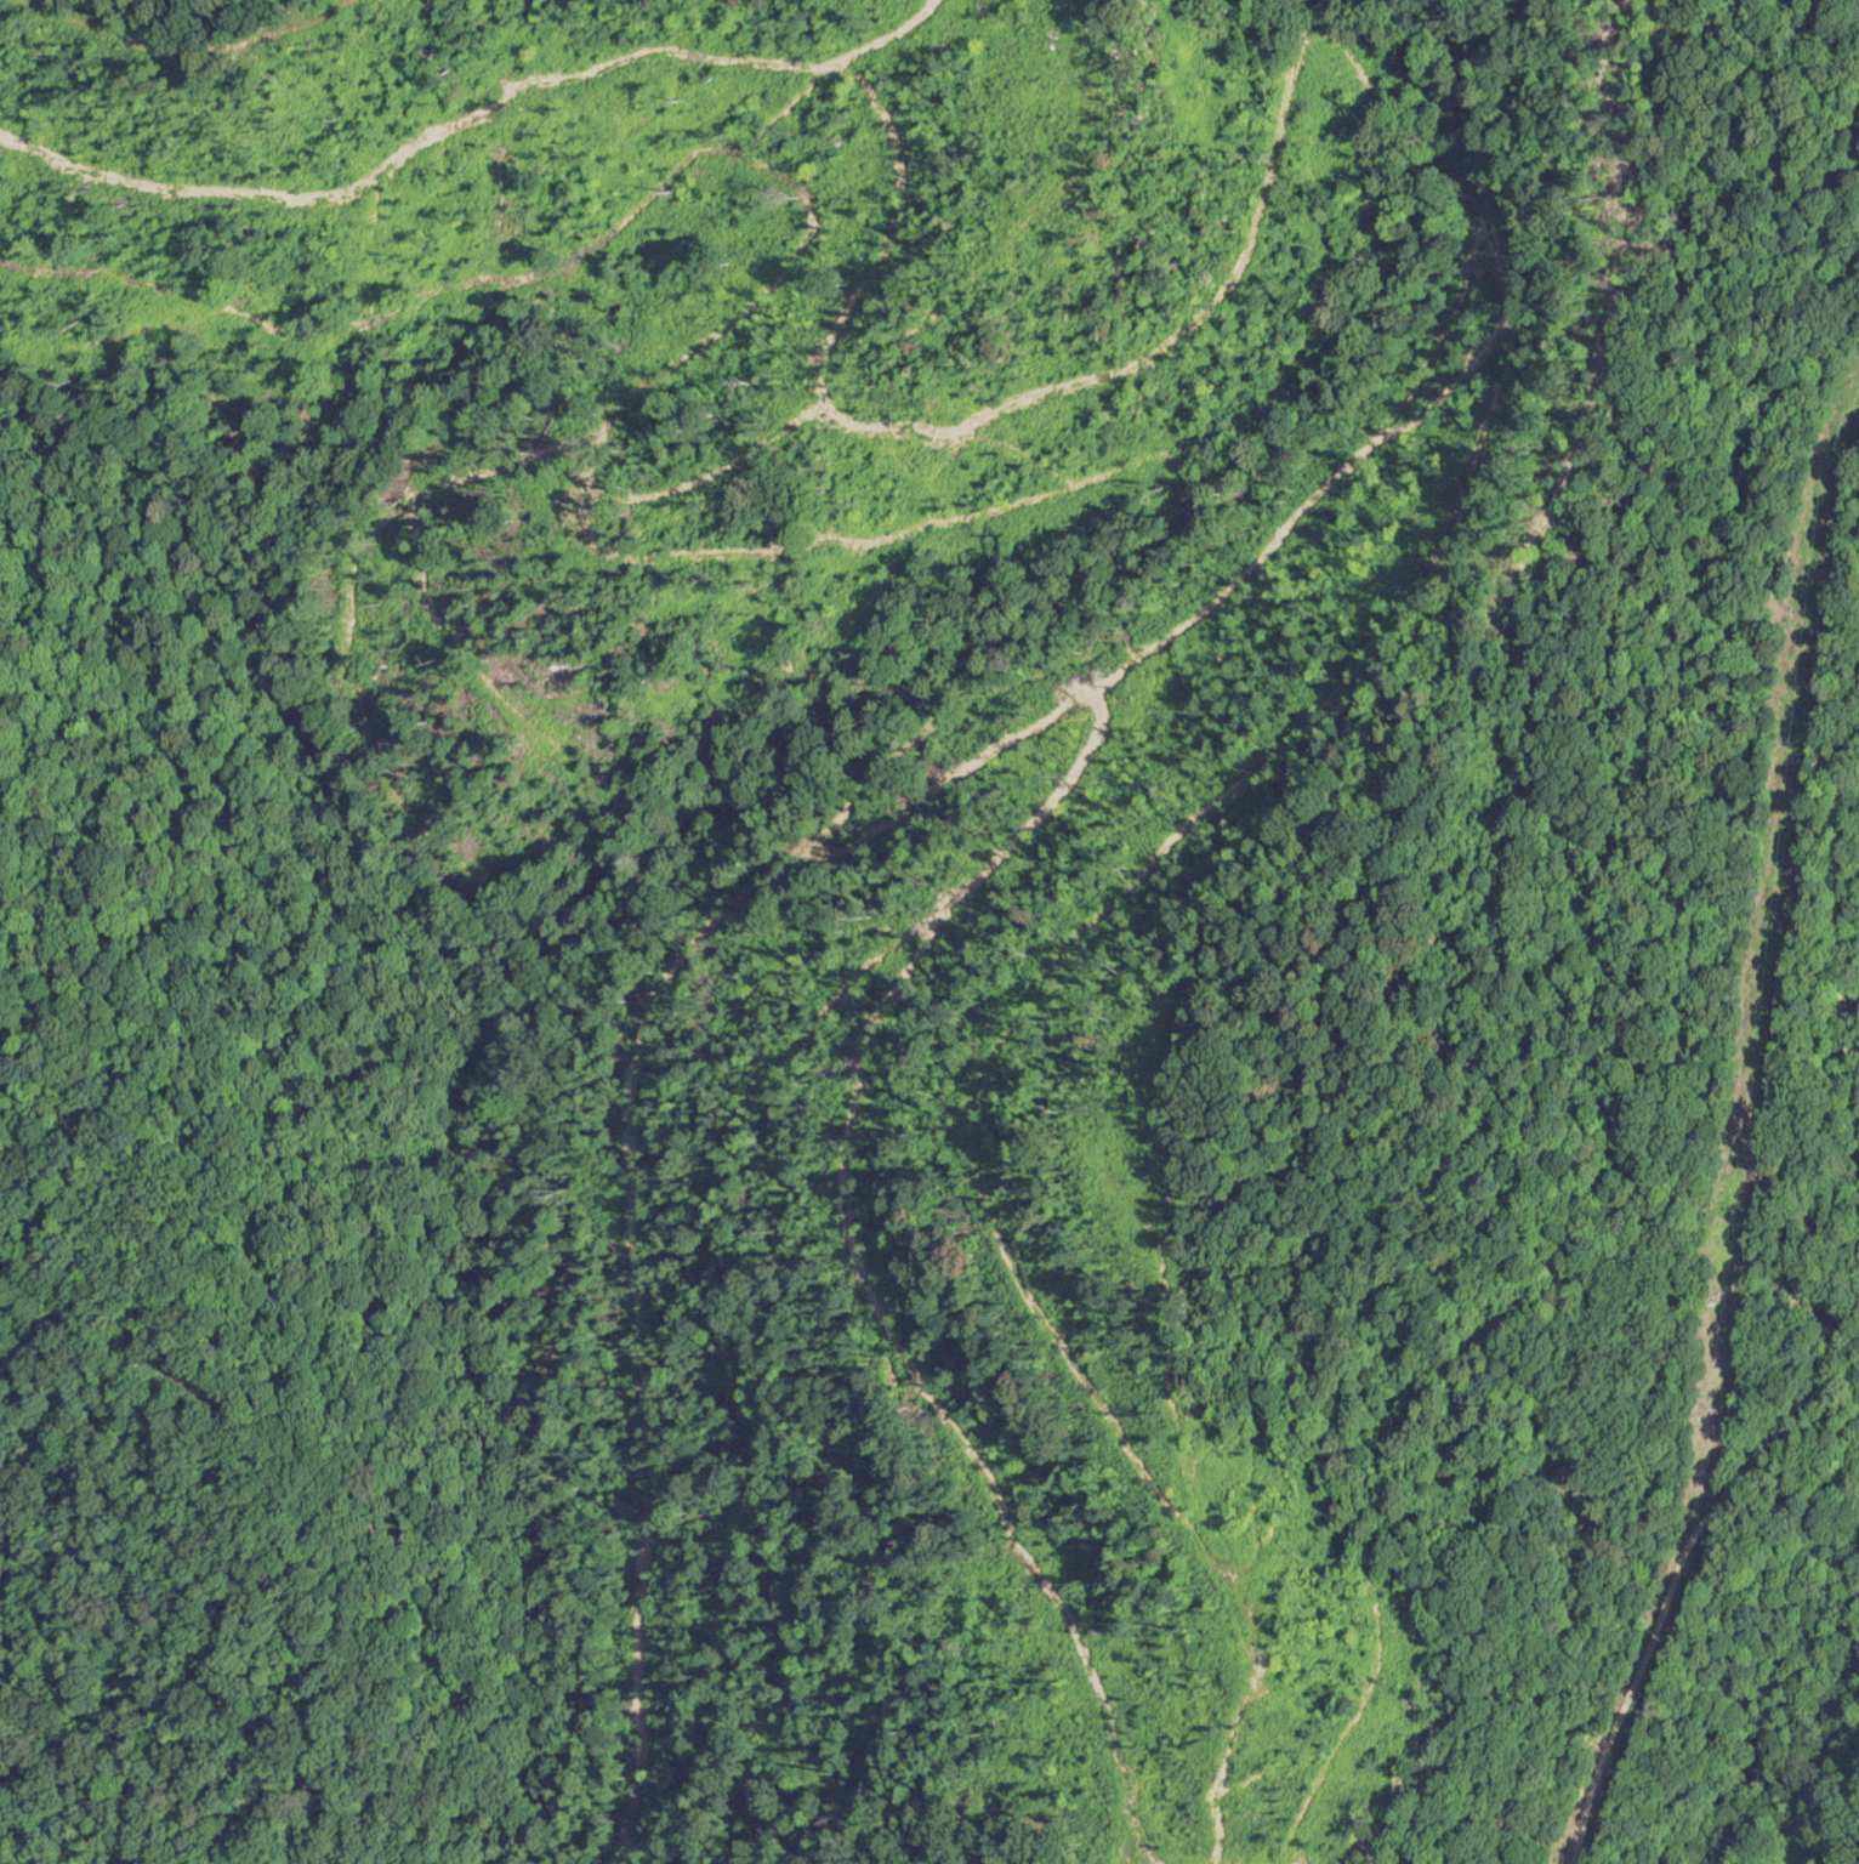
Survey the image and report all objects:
road: (1837, 925)
road: (1692, 1547)
road: (1834, 1825)

